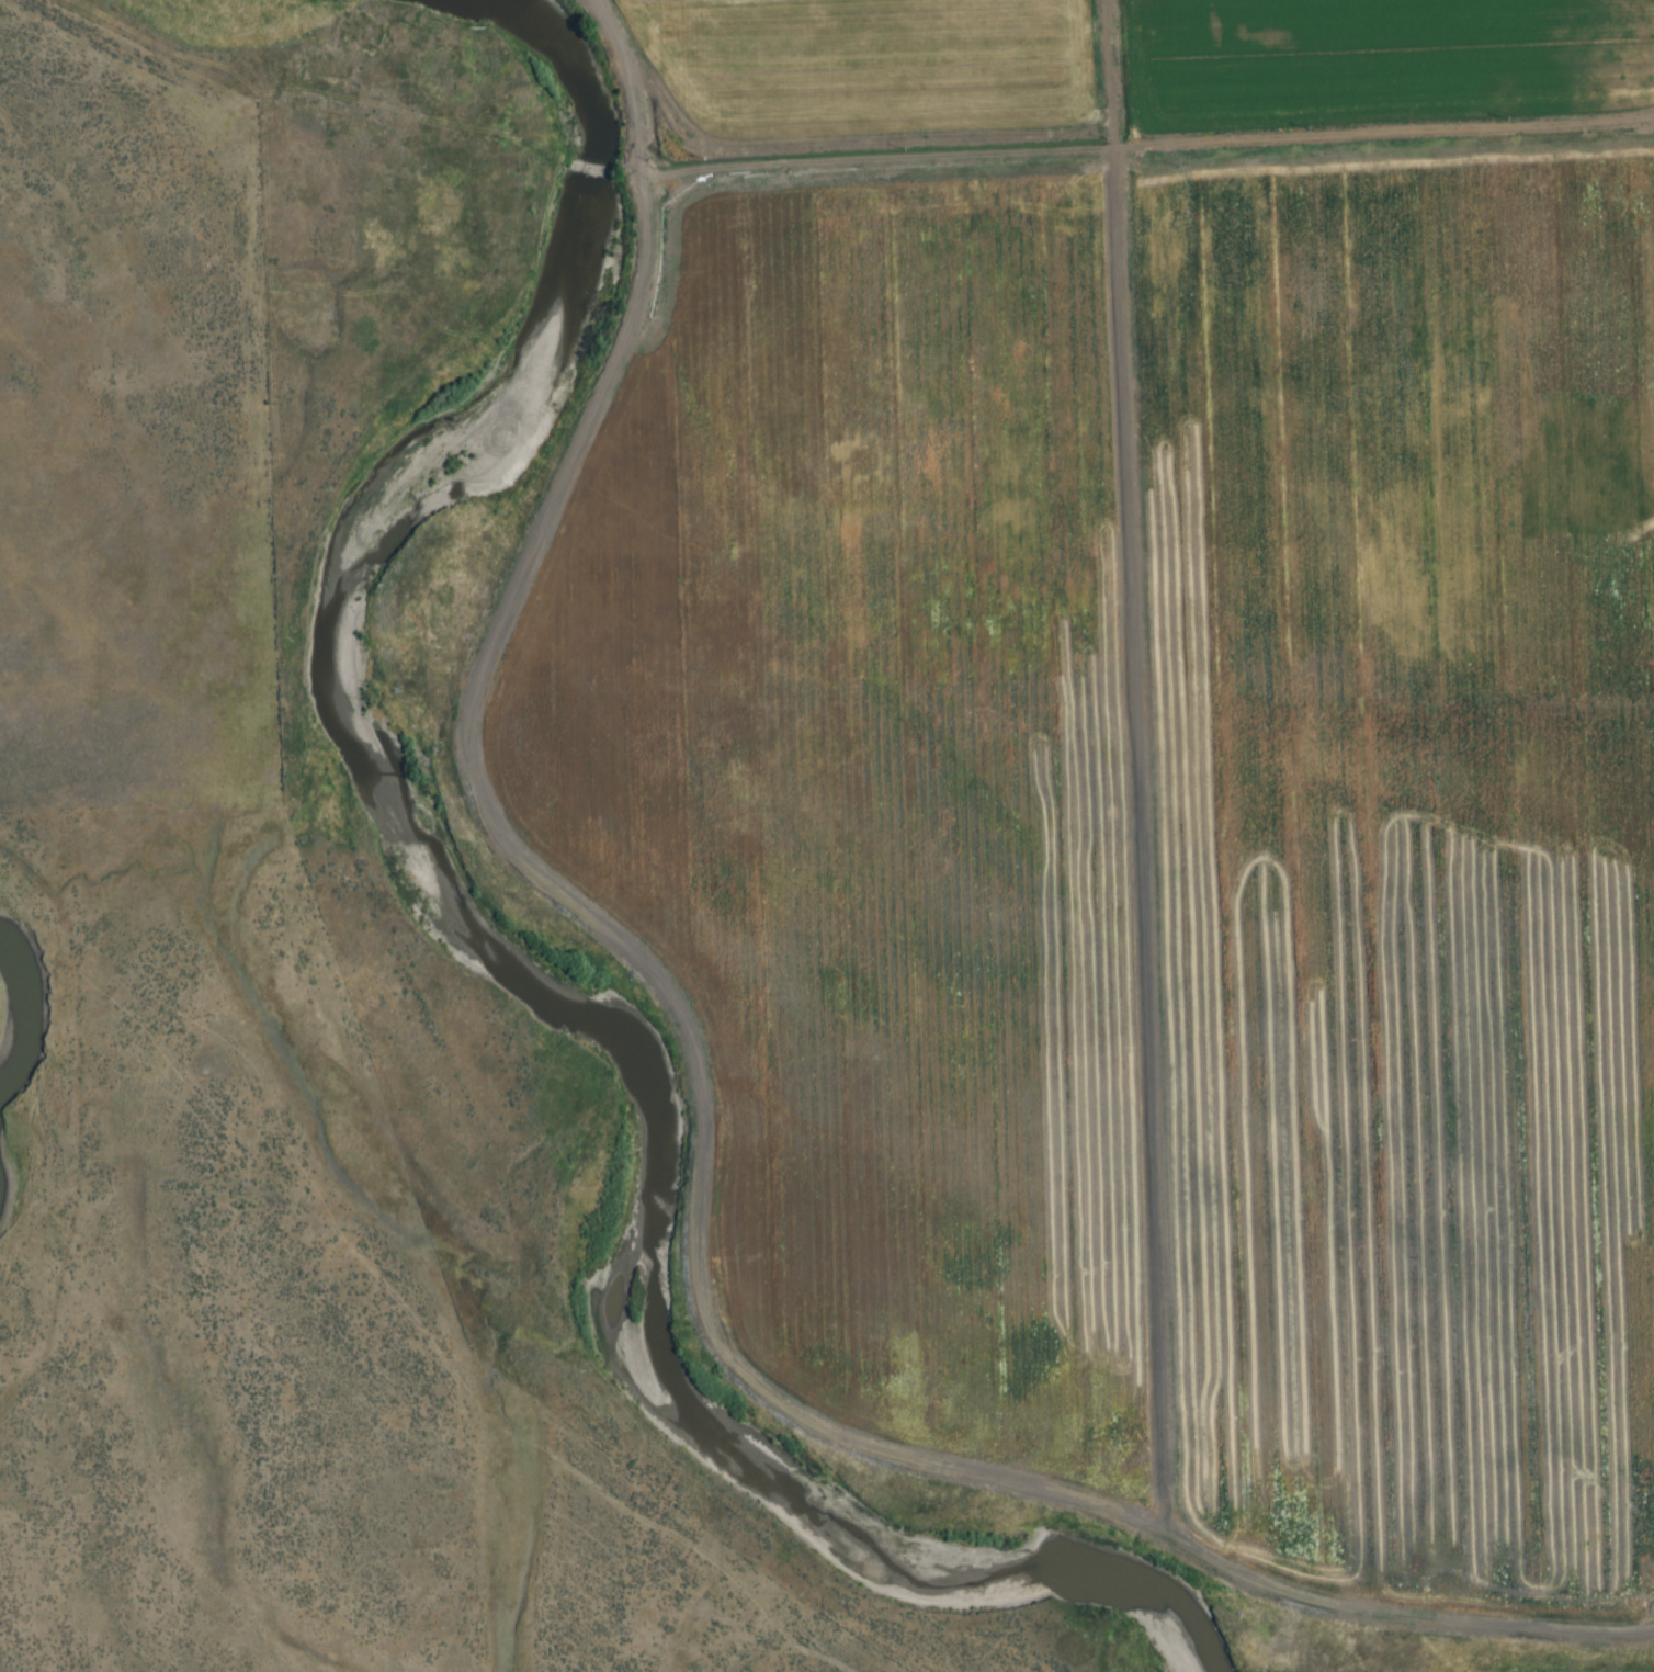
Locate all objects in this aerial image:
crop: (887, 60)
crop: (1383, 61)
road: (1156, 144)
crop: (891, 784)
crop: (1413, 849)
river: (546, 960)

